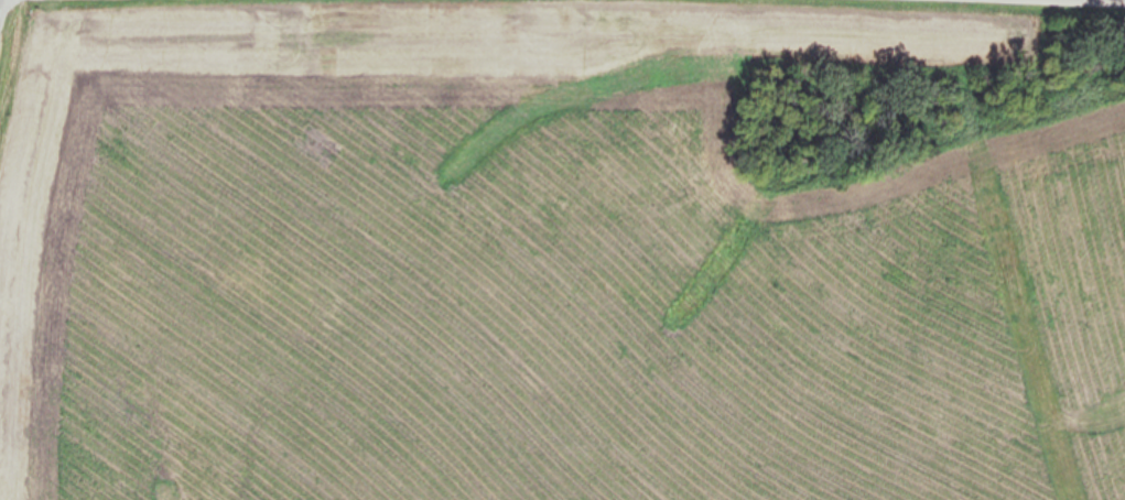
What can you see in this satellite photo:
road: (1088, 1)

